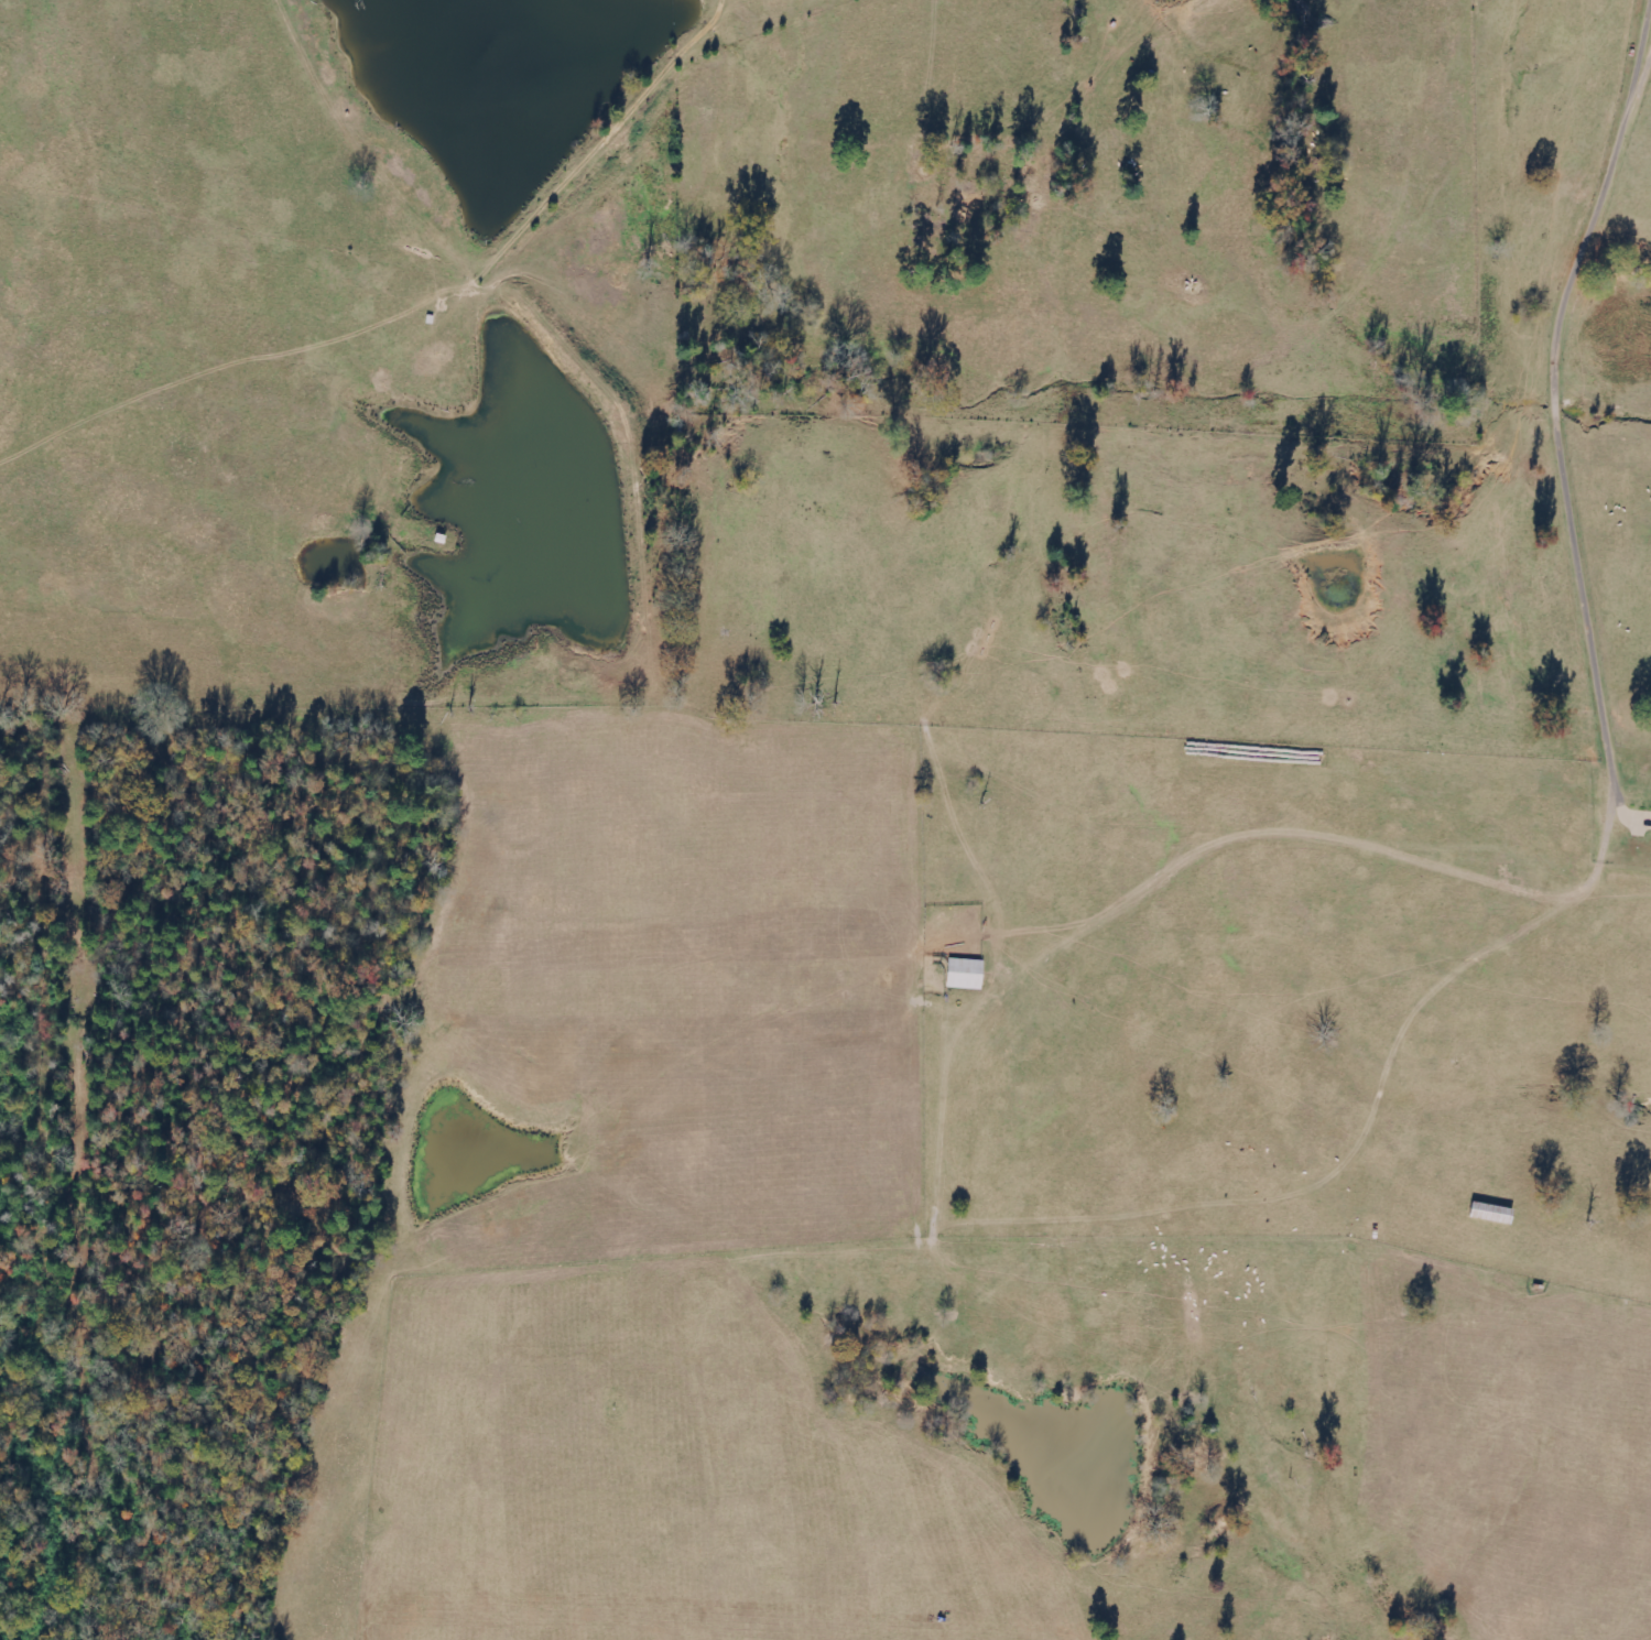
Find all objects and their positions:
road: (1549, 401)
building: (966, 974)

